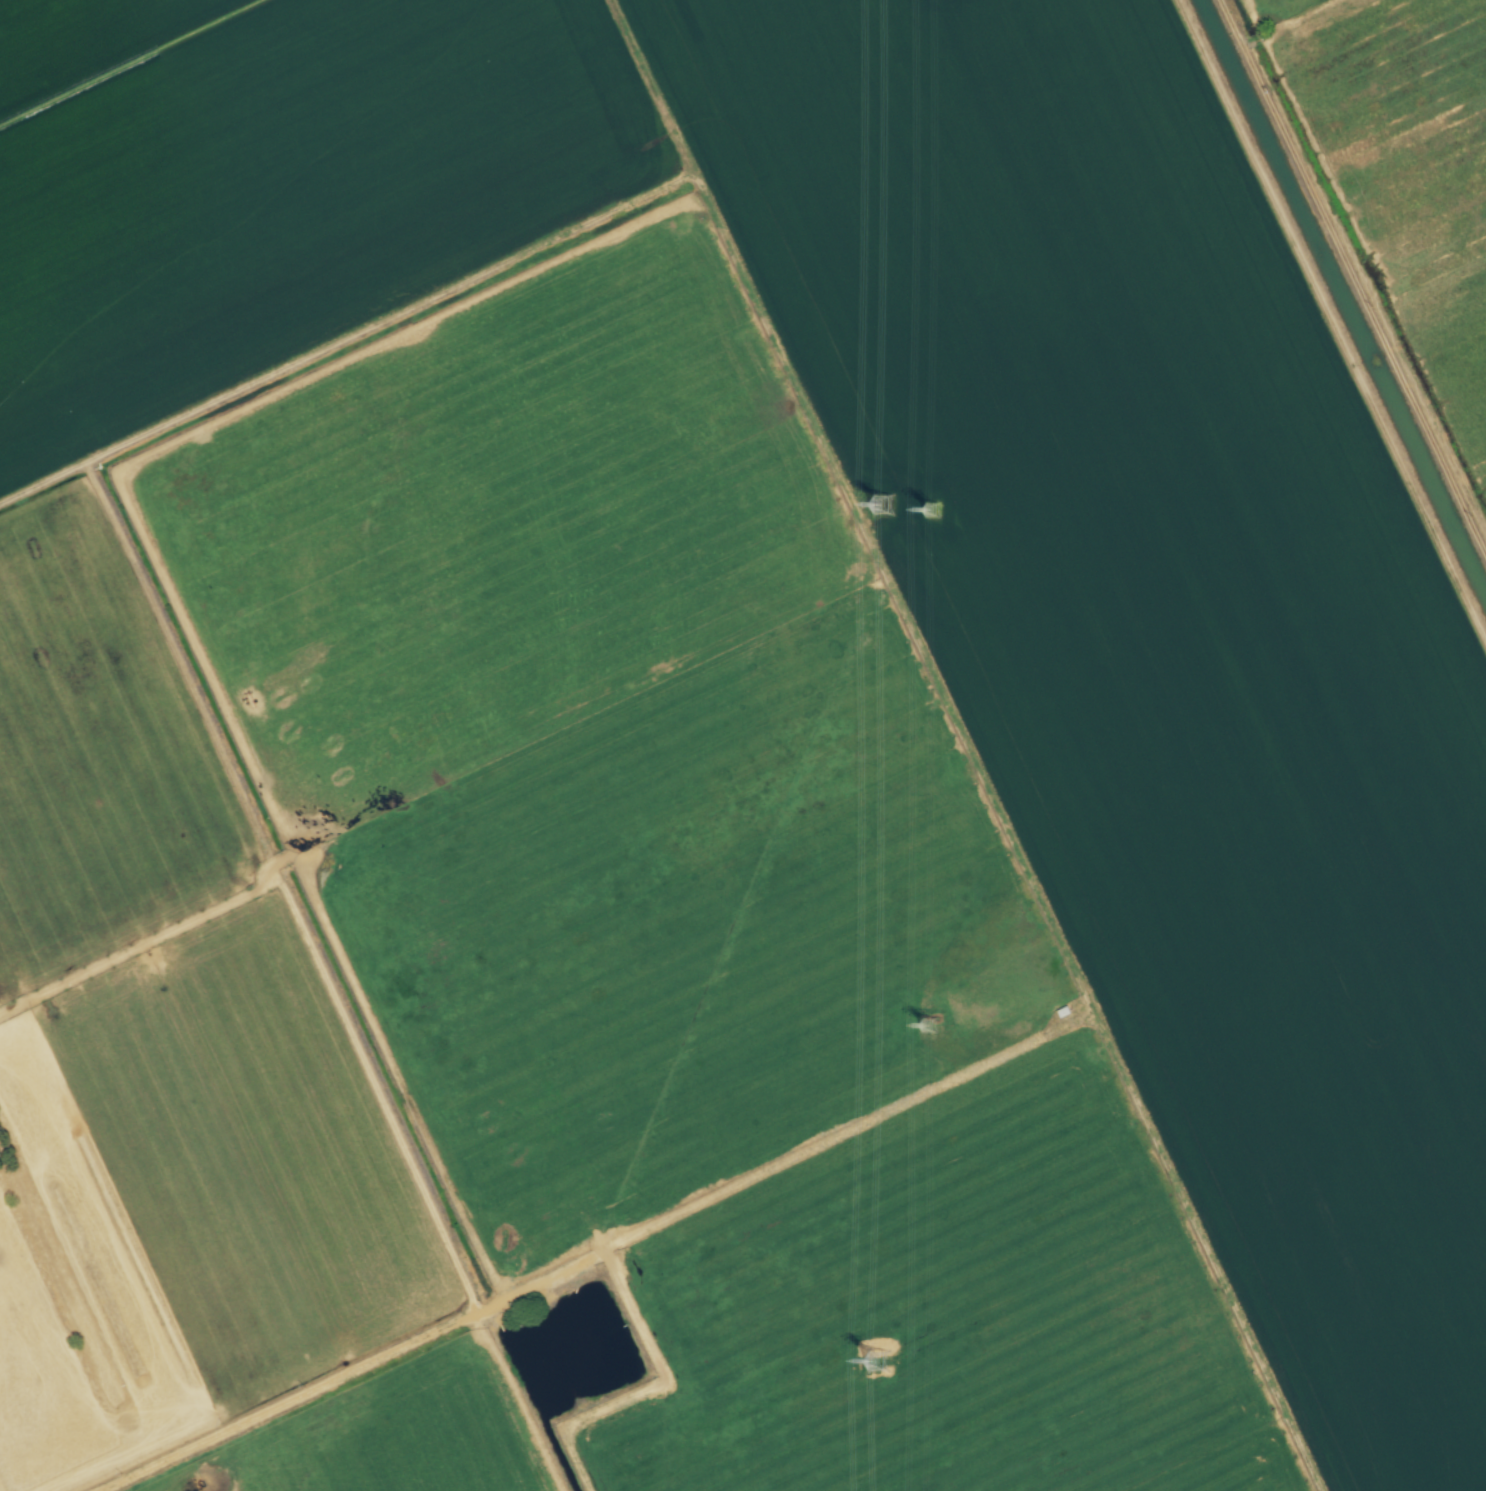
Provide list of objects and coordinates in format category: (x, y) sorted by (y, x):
power tower: (884, 505)
power tower: (933, 512)
power tower: (931, 1027)
power tower: (880, 1363)

